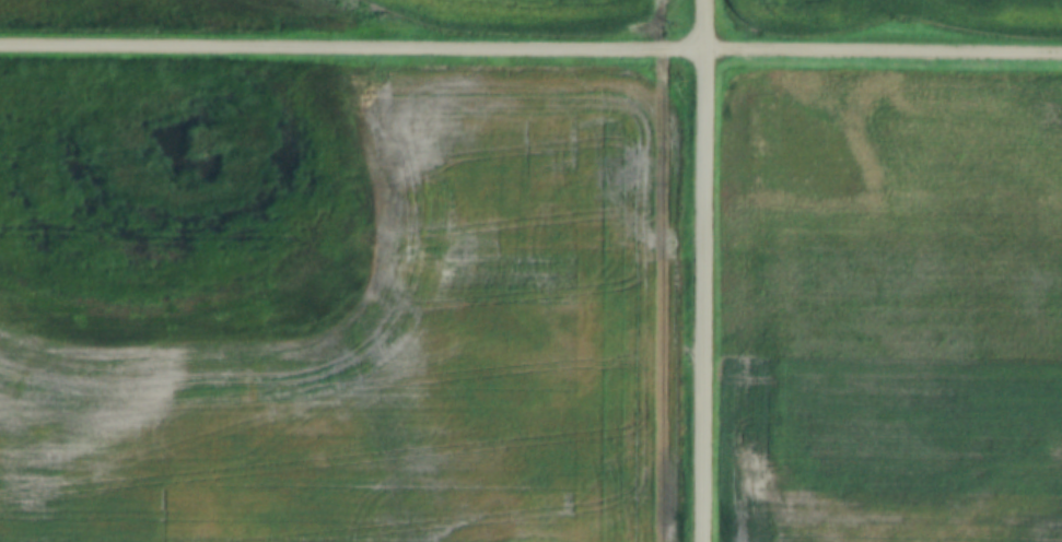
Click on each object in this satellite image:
road: (530, 50)
road: (708, 270)

